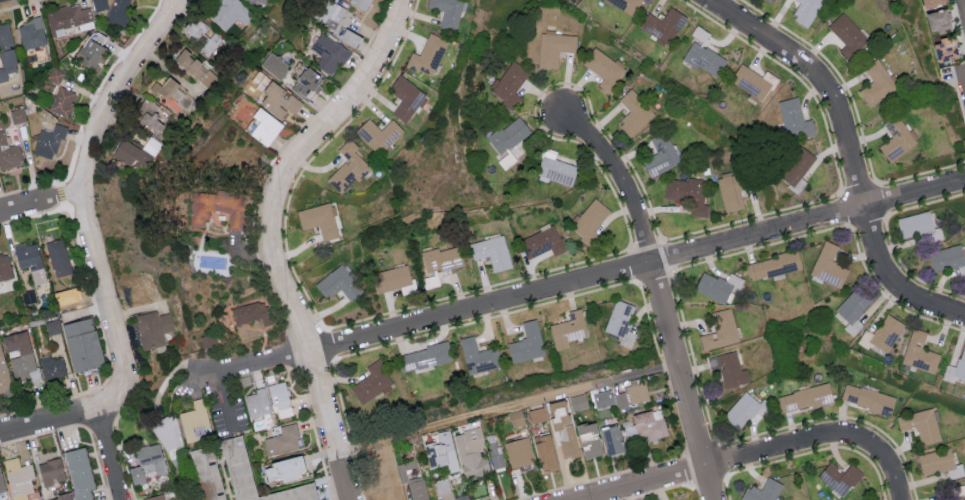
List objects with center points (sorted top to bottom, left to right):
building: (769, 0)
building: (252, 2)
building: (930, 2)
building: (361, 3)
building: (98, 4)
building: (627, 5)
road: (169, 11)
road: (178, 11)
building: (447, 11)
building: (806, 11)
building: (117, 12)
road: (962, 12)
building: (226, 13)
building: (331, 13)
building: (936, 20)
building: (664, 26)
building: (31, 33)
building: (700, 34)
building: (847, 35)
building: (202, 36)
building: (351, 39)
building: (944, 48)
building: (554, 50)
building: (90, 51)
building: (6, 52)
building: (330, 55)
building: (428, 56)
building: (705, 60)
building: (275, 67)
building: (196, 68)
building: (604, 70)
building: (55, 74)
building: (754, 82)
building: (876, 83)
building: (509, 85)
building: (308, 86)
building: (171, 94)
building: (406, 99)
building: (61, 101)
building: (280, 102)
building: (634, 114)
building: (151, 116)
building: (794, 121)
building: (263, 127)
building: (379, 136)
building: (896, 138)
building: (48, 141)
building: (508, 142)
building: (152, 147)
building: (8, 152)
building: (127, 153)
road: (849, 153)
building: (662, 157)
building: (348, 168)
building: (555, 169)
building: (797, 171)
building: (731, 193)
building: (688, 196)
road: (41, 197)
building: (216, 209)
road: (88, 211)
building: (593, 218)
building: (319, 222)
building: (920, 224)
road: (272, 234)
building: (542, 243)
building: (492, 252)
building: (57, 257)
building: (946, 258)
building: (30, 260)
building: (442, 260)
building: (773, 265)
building: (828, 265)
building: (4, 266)
road: (584, 279)
building: (394, 282)
building: (431, 283)
building: (338, 285)
building: (717, 285)
road: (659, 295)
building: (852, 309)
building: (251, 314)
building: (621, 322)
building: (568, 329)
building: (154, 330)
building: (720, 330)
building: (886, 332)
building: (527, 342)
building: (81, 343)
building: (919, 352)
building: (20, 355)
building: (424, 356)
building: (479, 356)
building: (52, 367)
building: (728, 368)
building: (956, 368)
building: (3, 373)
building: (371, 382)
building: (637, 392)
building: (806, 397)
building: (867, 398)
road: (224, 399)
building: (280, 400)
building: (620, 400)
building: (578, 401)
building: (258, 402)
road: (504, 407)
building: (742, 409)
building: (536, 414)
road: (50, 420)
building: (194, 420)
building: (920, 425)
building: (646, 427)
building: (167, 432)
building: (566, 435)
building: (589, 439)
building: (611, 439)
building: (282, 440)
road: (877, 448)
building: (441, 451)
building: (518, 451)
building: (544, 452)
road: (112, 453)
building: (471, 453)
building: (936, 461)
building: (147, 463)
building: (236, 468)
road: (705, 468)
building: (282, 470)
building: (51, 471)
building: (78, 473)
building: (207, 474)
building: (839, 477)
building: (18, 478)
building: (1, 484)
building: (417, 490)
building: (763, 491)
building: (302, 495)
building: (59, 497)
building: (154, 497)
building: (958, 498)
building: (174, 499)

